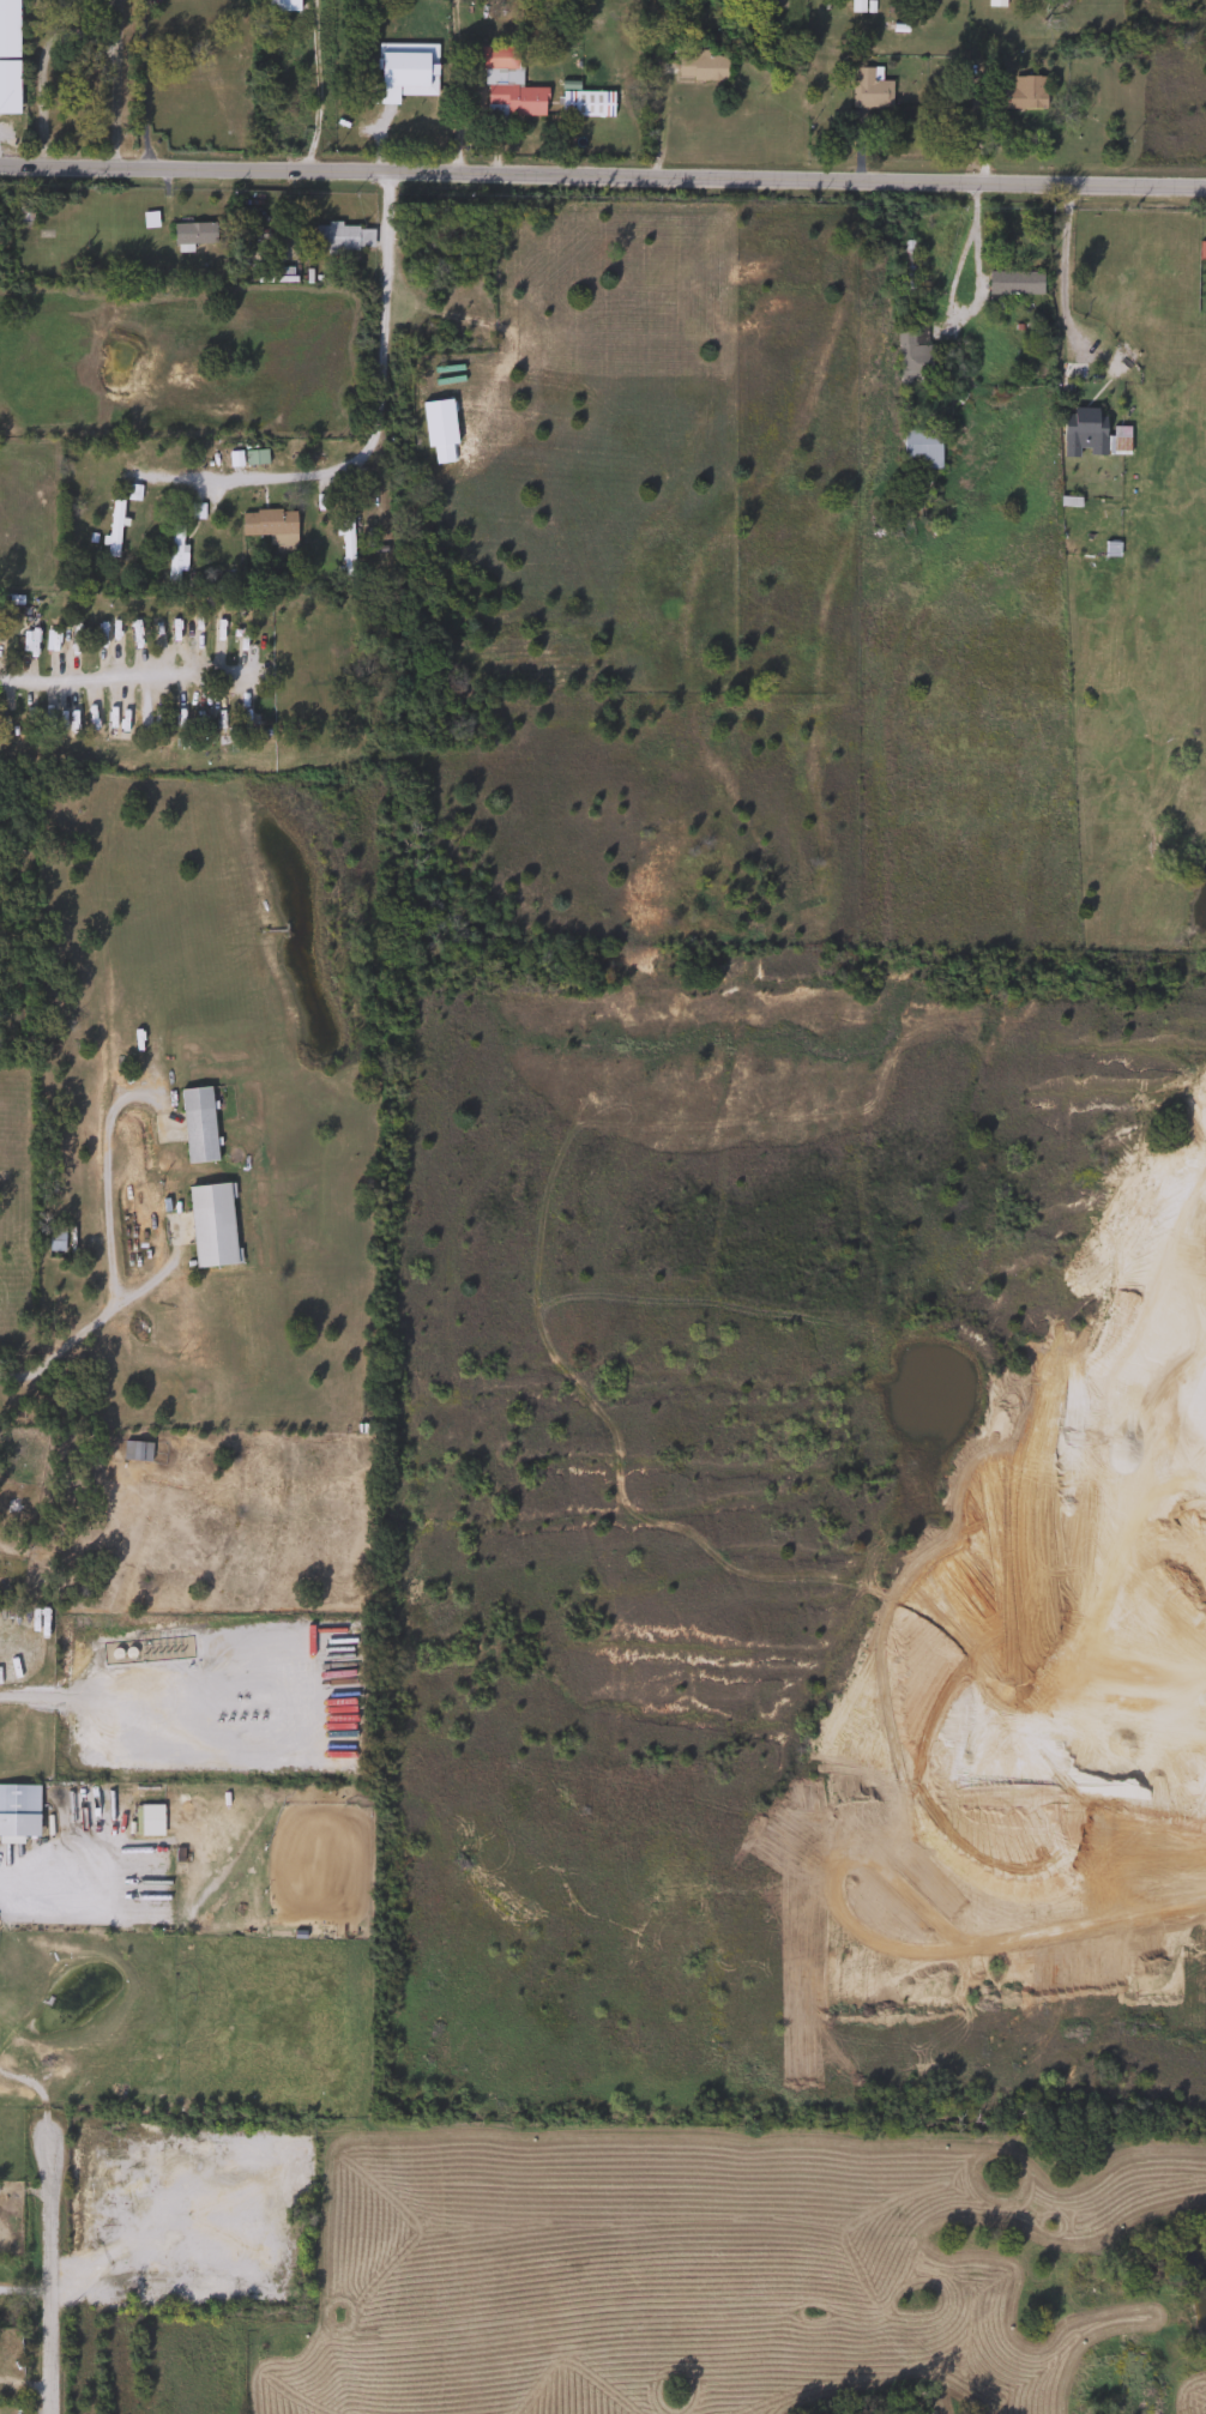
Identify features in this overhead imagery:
building: (994, 2)
building: (279, 5)
building: (699, 66)
road: (37, 78)
road: (139, 82)
road: (468, 83)
building: (506, 85)
road: (315, 87)
building: (867, 89)
building: (1018, 92)
building: (584, 104)
road: (602, 173)
building: (22, 212)
building: (189, 235)
building: (342, 237)
building: (904, 265)
road: (1062, 265)
building: (1009, 284)
road: (975, 294)
building: (910, 358)
road: (376, 427)
building: (1090, 435)
building: (918, 449)
building: (253, 458)
building: (267, 525)
building: (111, 529)
building: (171, 553)
road: (127, 675)
building: (195, 1124)
building: (211, 1224)
road: (110, 1243)
building: (362, 1429)
road: (36, 1688)
road: (312, 1691)
building: (18, 1799)
road: (31, 1884)
road: (53, 2269)

